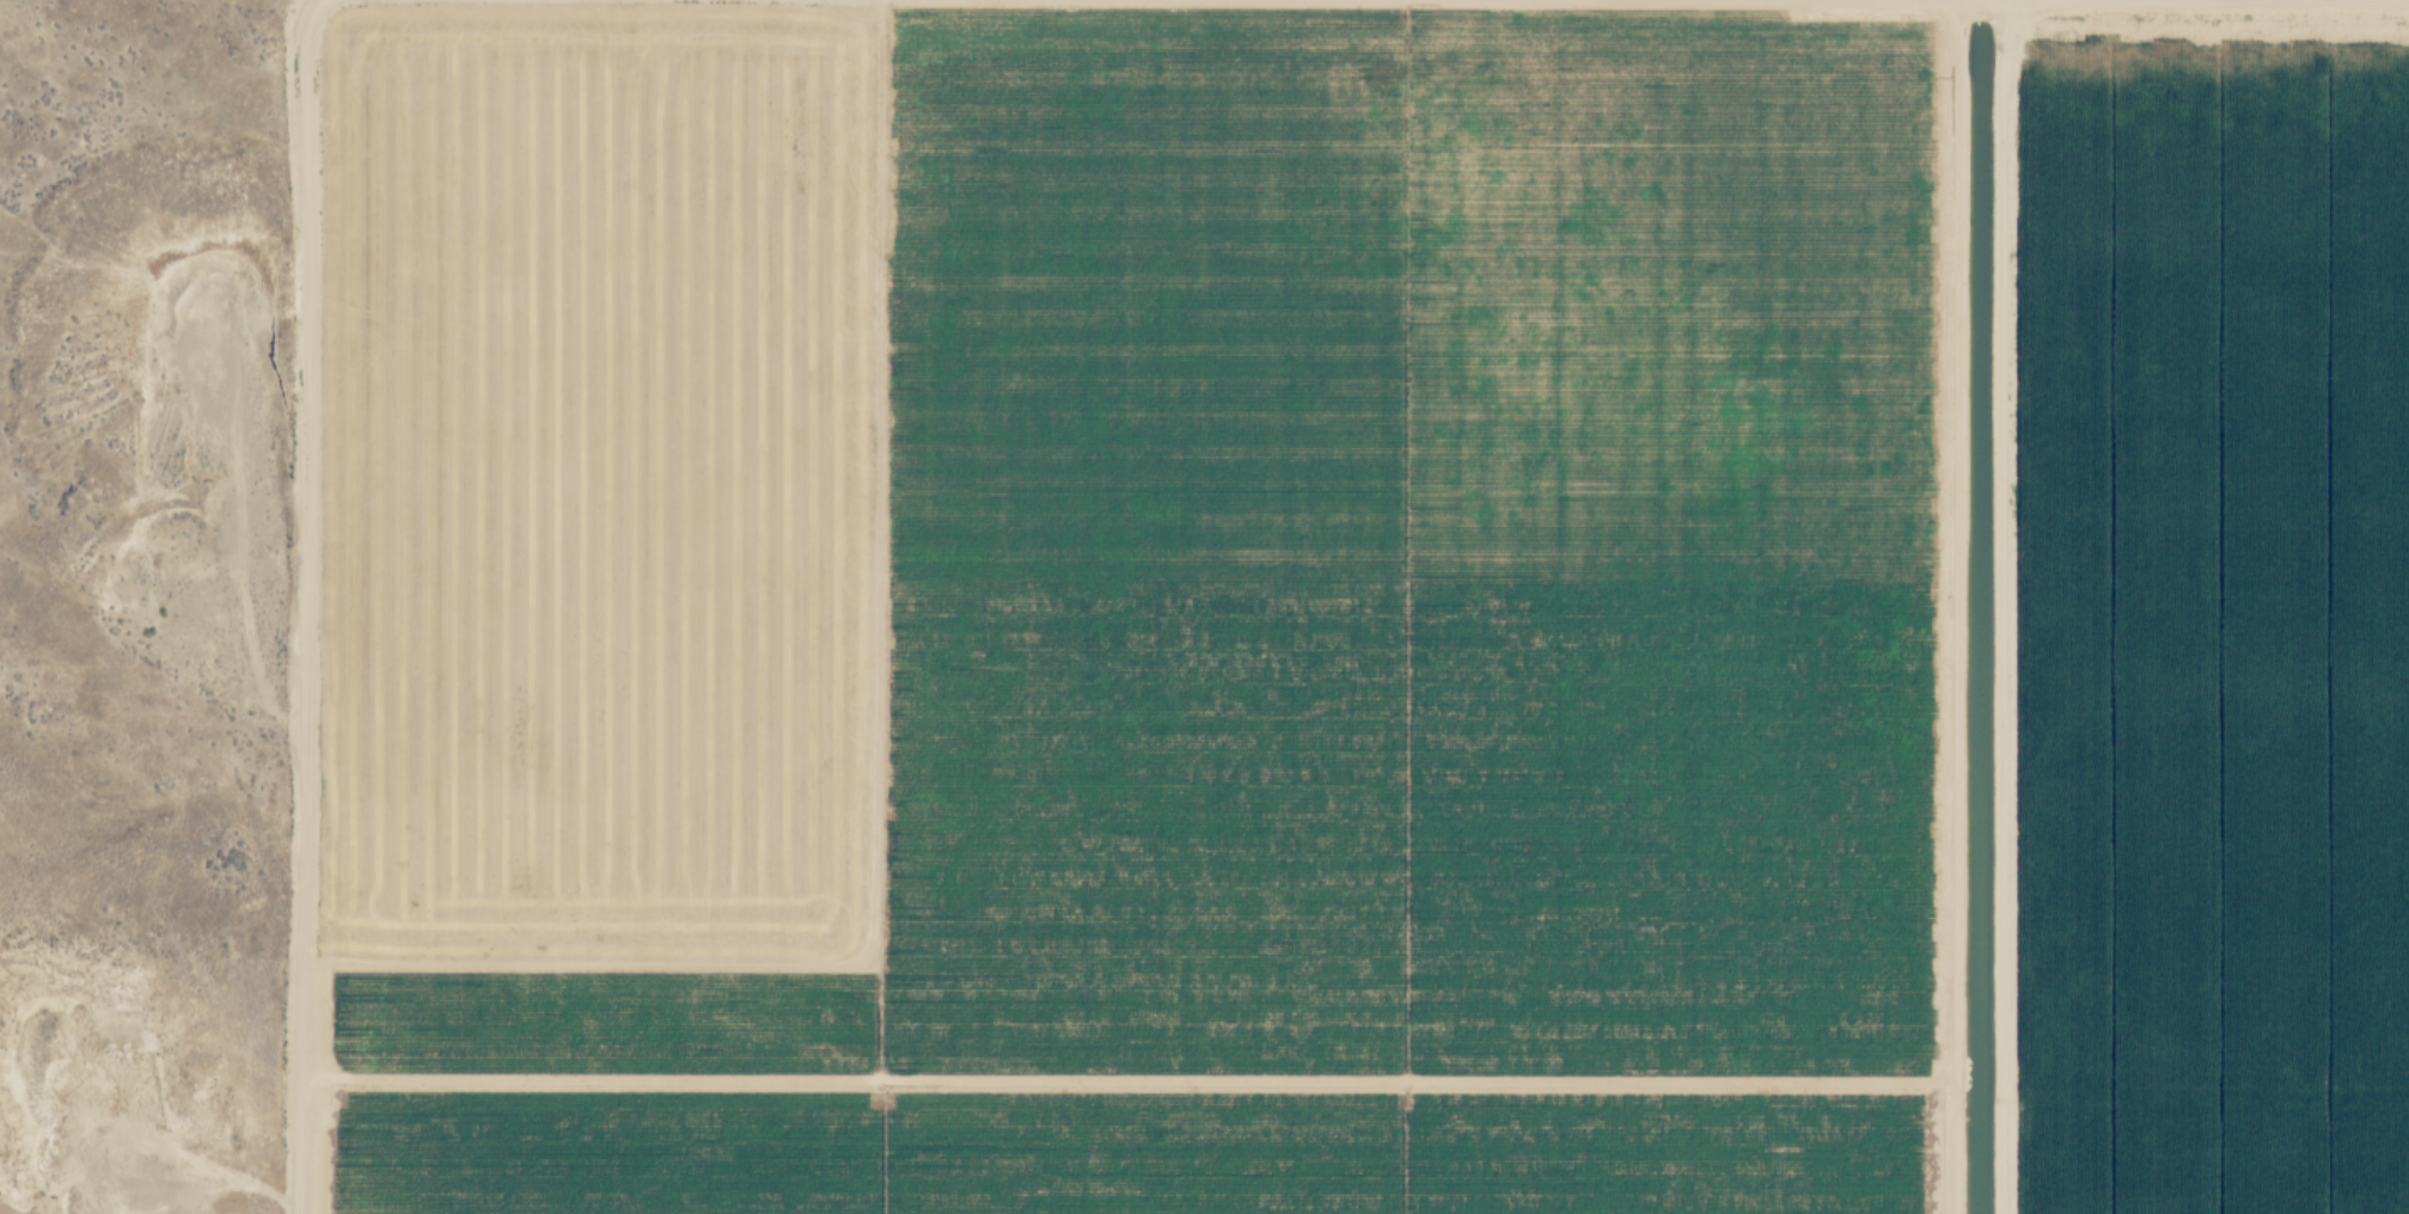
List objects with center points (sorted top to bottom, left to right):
crop: (1351, 606)

